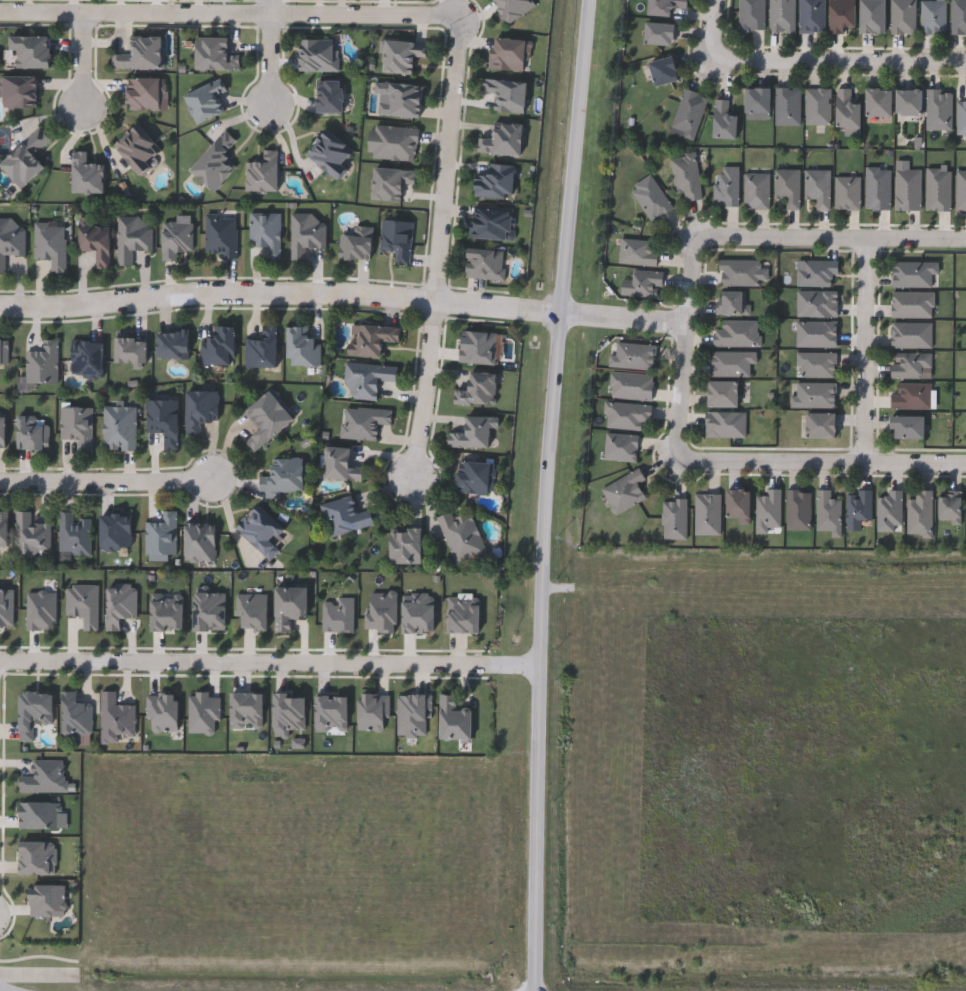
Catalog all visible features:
building: (662, 6)
road: (268, 7)
building: (513, 8)
road: (230, 13)
building: (751, 14)
building: (781, 15)
building: (810, 15)
building: (839, 15)
building: (869, 16)
building: (902, 16)
building: (932, 16)
building: (958, 16)
building: (656, 32)
road: (713, 32)
building: (31, 50)
building: (509, 53)
building: (140, 54)
building: (214, 54)
building: (318, 54)
building: (401, 55)
road: (838, 64)
road: (81, 65)
road: (269, 65)
building: (661, 70)
building: (19, 91)
building: (144, 93)
building: (507, 94)
building: (330, 96)
building: (400, 99)
building: (205, 100)
building: (907, 100)
building: (755, 101)
building: (876, 101)
building: (787, 104)
building: (817, 104)
building: (846, 106)
building: (938, 108)
building: (688, 112)
building: (961, 115)
building: (722, 118)
building: (503, 139)
building: (393, 142)
building: (138, 148)
building: (331, 153)
building: (26, 158)
road: (452, 160)
building: (215, 161)
building: (263, 172)
building: (685, 174)
building: (86, 175)
building: (495, 181)
building: (391, 182)
building: (727, 184)
building: (787, 186)
building: (817, 186)
building: (877, 188)
building: (938, 188)
building: (755, 189)
building: (846, 192)
building: (650, 196)
building: (491, 222)
building: (264, 232)
building: (305, 234)
building: (220, 235)
building: (133, 238)
building: (176, 238)
road: (831, 238)
building: (396, 239)
building: (10, 240)
building: (96, 241)
building: (356, 243)
building: (50, 244)
building: (637, 251)
building: (485, 263)
building: (741, 271)
building: (816, 271)
building: (913, 272)
building: (642, 283)
road: (344, 296)
building: (733, 302)
building: (912, 303)
building: (736, 332)
building: (371, 338)
building: (173, 345)
building: (219, 345)
building: (301, 347)
building: (477, 347)
building: (262, 349)
building: (131, 350)
road: (685, 350)
road: (872, 351)
building: (3, 352)
building: (632, 354)
building: (87, 358)
building: (731, 361)
building: (42, 362)
building: (816, 363)
building: (909, 363)
building: (367, 378)
building: (630, 384)
building: (477, 389)
building: (720, 393)
building: (813, 393)
building: (910, 394)
road: (432, 401)
building: (201, 409)
building: (626, 414)
building: (267, 418)
building: (164, 420)
building: (363, 422)
building: (818, 424)
building: (76, 426)
building: (906, 426)
building: (119, 428)
building: (2, 431)
building: (32, 432)
building: (473, 433)
building: (343, 463)
road: (821, 464)
building: (283, 476)
building: (476, 477)
road: (105, 482)
building: (624, 489)
road: (544, 494)
building: (736, 503)
building: (949, 506)
building: (858, 507)
building: (768, 509)
building: (798, 509)
building: (889, 509)
building: (828, 511)
building: (920, 512)
building: (345, 516)
building: (3, 529)
building: (261, 529)
building: (115, 531)
building: (74, 534)
building: (161, 536)
building: (30, 537)
building: (462, 538)
building: (200, 541)
building: (407, 546)
building: (82, 604)
building: (289, 606)
building: (167, 611)
building: (209, 612)
road: (269, 661)
building: (246, 710)
building: (34, 712)
building: (289, 713)
building: (331, 713)
building: (75, 715)
building: (115, 718)
building: (454, 720)
building: (45, 776)
road: (6, 987)

